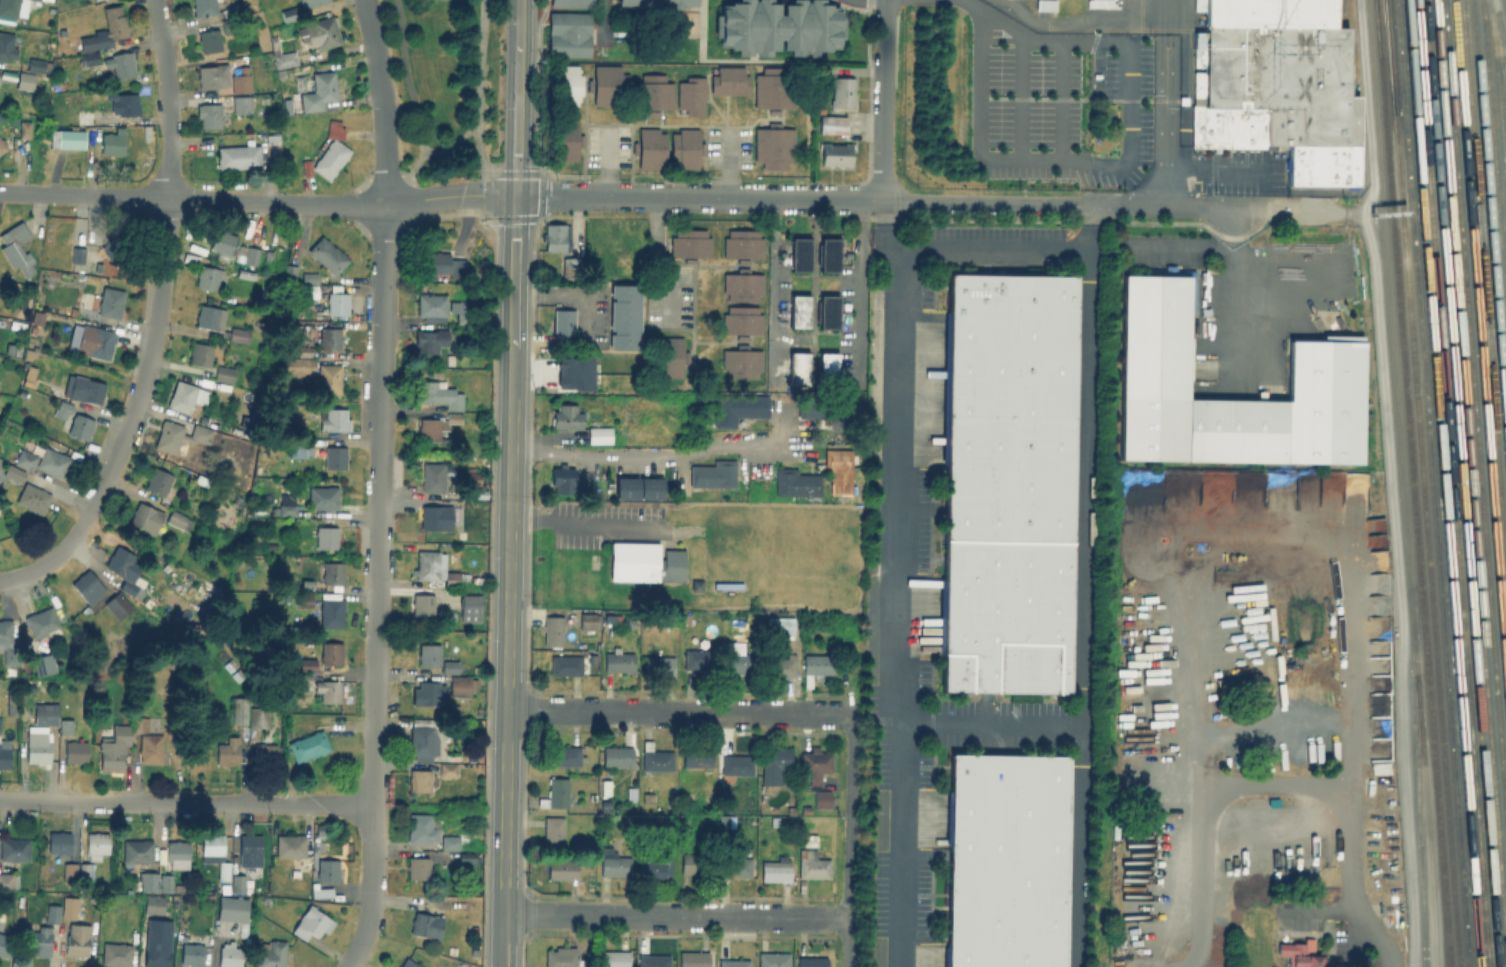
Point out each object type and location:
building: (48, 0)
building: (95, 0)
building: (311, 3)
building: (572, 3)
building: (659, 4)
road: (971, 6)
building: (1045, 6)
building: (17, 7)
building: (204, 8)
building: (234, 9)
building: (290, 13)
road: (602, 20)
road: (518, 21)
road: (1080, 22)
building: (230, 25)
building: (107, 29)
building: (772, 31)
building: (320, 33)
building: (570, 35)
building: (209, 40)
railway: (1497, 40)
building: (7, 47)
building: (282, 56)
railway: (1388, 56)
railway: (1389, 56)
building: (90, 58)
building: (121, 65)
building: (38, 66)
building: (213, 76)
building: (7, 77)
railway: (1504, 80)
building: (25, 81)
building: (241, 81)
park: (445, 84)
building: (563, 85)
building: (608, 85)
building: (724, 85)
building: (1277, 86)
building: (775, 89)
building: (321, 90)
building: (843, 92)
railway: (1498, 93)
road: (1019, 95)
building: (648, 97)
road: (881, 100)
road: (1060, 100)
building: (686, 101)
road: (1164, 102)
road: (476, 103)
building: (126, 104)
building: (241, 105)
road: (414, 109)
building: (210, 116)
road: (516, 118)
building: (9, 120)
building: (833, 124)
building: (25, 129)
building: (71, 140)
road: (451, 140)
building: (563, 141)
building: (113, 142)
building: (2, 147)
building: (650, 148)
building: (685, 149)
building: (775, 149)
building: (328, 153)
building: (837, 154)
building: (239, 157)
railway: (1494, 161)
road: (607, 163)
road: (727, 164)
road: (1116, 165)
road: (1214, 171)
traffic signals: (515, 194)
road: (697, 197)
road: (448, 198)
road: (191, 199)
road: (1056, 203)
road: (880, 210)
road: (1088, 213)
railway: (1489, 223)
building: (556, 235)
road: (1088, 235)
road: (888, 237)
building: (223, 240)
building: (16, 246)
building: (684, 249)
road: (995, 250)
building: (111, 251)
building: (739, 251)
building: (78, 254)
building: (252, 254)
building: (328, 254)
building: (267, 255)
building: (191, 257)
building: (790, 260)
building: (822, 260)
road: (657, 261)
road: (1289, 264)
building: (442, 265)
building: (570, 266)
road: (514, 269)
building: (291, 271)
building: (244, 272)
road: (1232, 272)
building: (208, 276)
building: (310, 277)
road: (773, 278)
railway: (1484, 283)
building: (737, 288)
building: (310, 289)
road: (859, 291)
road: (566, 294)
building: (337, 299)
building: (108, 301)
building: (432, 305)
building: (463, 309)
building: (624, 315)
building: (791, 316)
building: (822, 316)
building: (210, 317)
road: (155, 321)
building: (20, 323)
building: (563, 325)
building: (738, 328)
building: (239, 334)
building: (330, 338)
building: (91, 339)
building: (430, 339)
building: (14, 348)
building: (305, 349)
railway: (1479, 349)
building: (669, 351)
building: (201, 353)
building: (449, 358)
building: (296, 364)
building: (798, 364)
building: (831, 365)
building: (737, 369)
building: (1323, 369)
building: (574, 372)
building: (225, 373)
building: (29, 377)
building: (328, 377)
building: (218, 385)
building: (84, 388)
building: (439, 393)
building: (187, 395)
building: (65, 406)
railway: (1475, 406)
building: (738, 408)
building: (826, 408)
building: (566, 416)
building: (334, 419)
building: (80, 425)
building: (437, 426)
building: (599, 434)
building: (180, 436)
building: (298, 448)
road: (652, 451)
building: (335, 456)
building: (23, 457)
building: (53, 461)
building: (839, 469)
building: (13, 471)
building: (713, 473)
building: (2, 476)
railway: (1470, 476)
building: (434, 477)
building: (472, 477)
building: (562, 478)
building: (158, 480)
building: (1008, 481)
building: (797, 482)
railway: (1401, 483)
railway: (1412, 483)
railway: (1432, 483)
railway: (1441, 483)
railway: (1452, 483)
railway: (1461, 483)
road: (377, 485)
building: (626, 485)
building: (650, 486)
building: (323, 496)
building: (33, 497)
building: (287, 504)
building: (146, 516)
building: (439, 516)
building: (179, 519)
road: (586, 522)
building: (461, 534)
building: (326, 536)
railway: (1426, 539)
building: (645, 561)
building: (436, 568)
building: (126, 570)
building: (335, 571)
road: (1175, 574)
building: (696, 584)
building: (727, 584)
building: (89, 591)
building: (305, 599)
building: (118, 604)
building: (423, 604)
building: (470, 606)
building: (332, 612)
building: (41, 621)
building: (588, 624)
building: (778, 625)
building: (831, 625)
building: (553, 630)
building: (9, 641)
building: (332, 652)
building: (429, 654)
road: (507, 656)
building: (698, 658)
building: (618, 660)
building: (308, 663)
building: (739, 663)
building: (44, 664)
building: (565, 664)
building: (817, 664)
building: (659, 665)
building: (779, 665)
building: (450, 666)
building: (237, 674)
building: (462, 684)
building: (244, 687)
building: (330, 690)
building: (428, 692)
building: (11, 704)
building: (240, 709)
building: (477, 710)
road: (675, 712)
building: (46, 713)
building: (258, 716)
building: (0, 718)
building: (139, 723)
building: (66, 726)
road: (991, 729)
building: (422, 739)
building: (38, 744)
building: (309, 745)
building: (114, 747)
building: (151, 748)
building: (76, 751)
building: (228, 751)
building: (4, 753)
building: (265, 753)
building: (565, 755)
building: (617, 755)
building: (697, 755)
building: (655, 757)
road: (1356, 760)
building: (737, 764)
building: (774, 764)
building: (448, 769)
building: (817, 774)
building: (419, 780)
building: (605, 787)
building: (555, 793)
building: (631, 793)
building: (647, 797)
road: (185, 803)
building: (605, 805)
road: (1202, 820)
railway: (1417, 820)
building: (421, 828)
building: (553, 832)
building: (809, 839)
road: (848, 839)
building: (59, 842)
building: (450, 842)
building: (96, 844)
building: (211, 844)
building: (291, 846)
building: (14, 848)
building: (137, 850)
building: (178, 853)
building: (251, 853)
building: (466, 856)
building: (1006, 860)
building: (613, 863)
building: (694, 863)
building: (812, 864)
building: (735, 866)
building: (419, 868)
building: (656, 868)
building: (328, 869)
building: (562, 869)
building: (776, 869)
building: (70, 870)
building: (84, 870)
building: (224, 870)
building: (8, 881)
building: (148, 881)
building: (166, 882)
building: (85, 883)
building: (239, 883)
building: (325, 891)
building: (153, 904)
building: (68, 906)
building: (233, 908)
building: (53, 913)
road: (675, 917)
building: (312, 923)
building: (427, 925)
building: (39, 939)
building: (77, 939)
building: (157, 943)
building: (6, 945)
building: (269, 953)
building: (116, 954)
building: (191, 954)
building: (1299, 954)
building: (229, 955)
building: (562, 957)
building: (613, 958)
building: (693, 958)
building: (773, 959)
building: (653, 960)
building: (812, 961)
building: (408, 963)
building: (733, 963)

